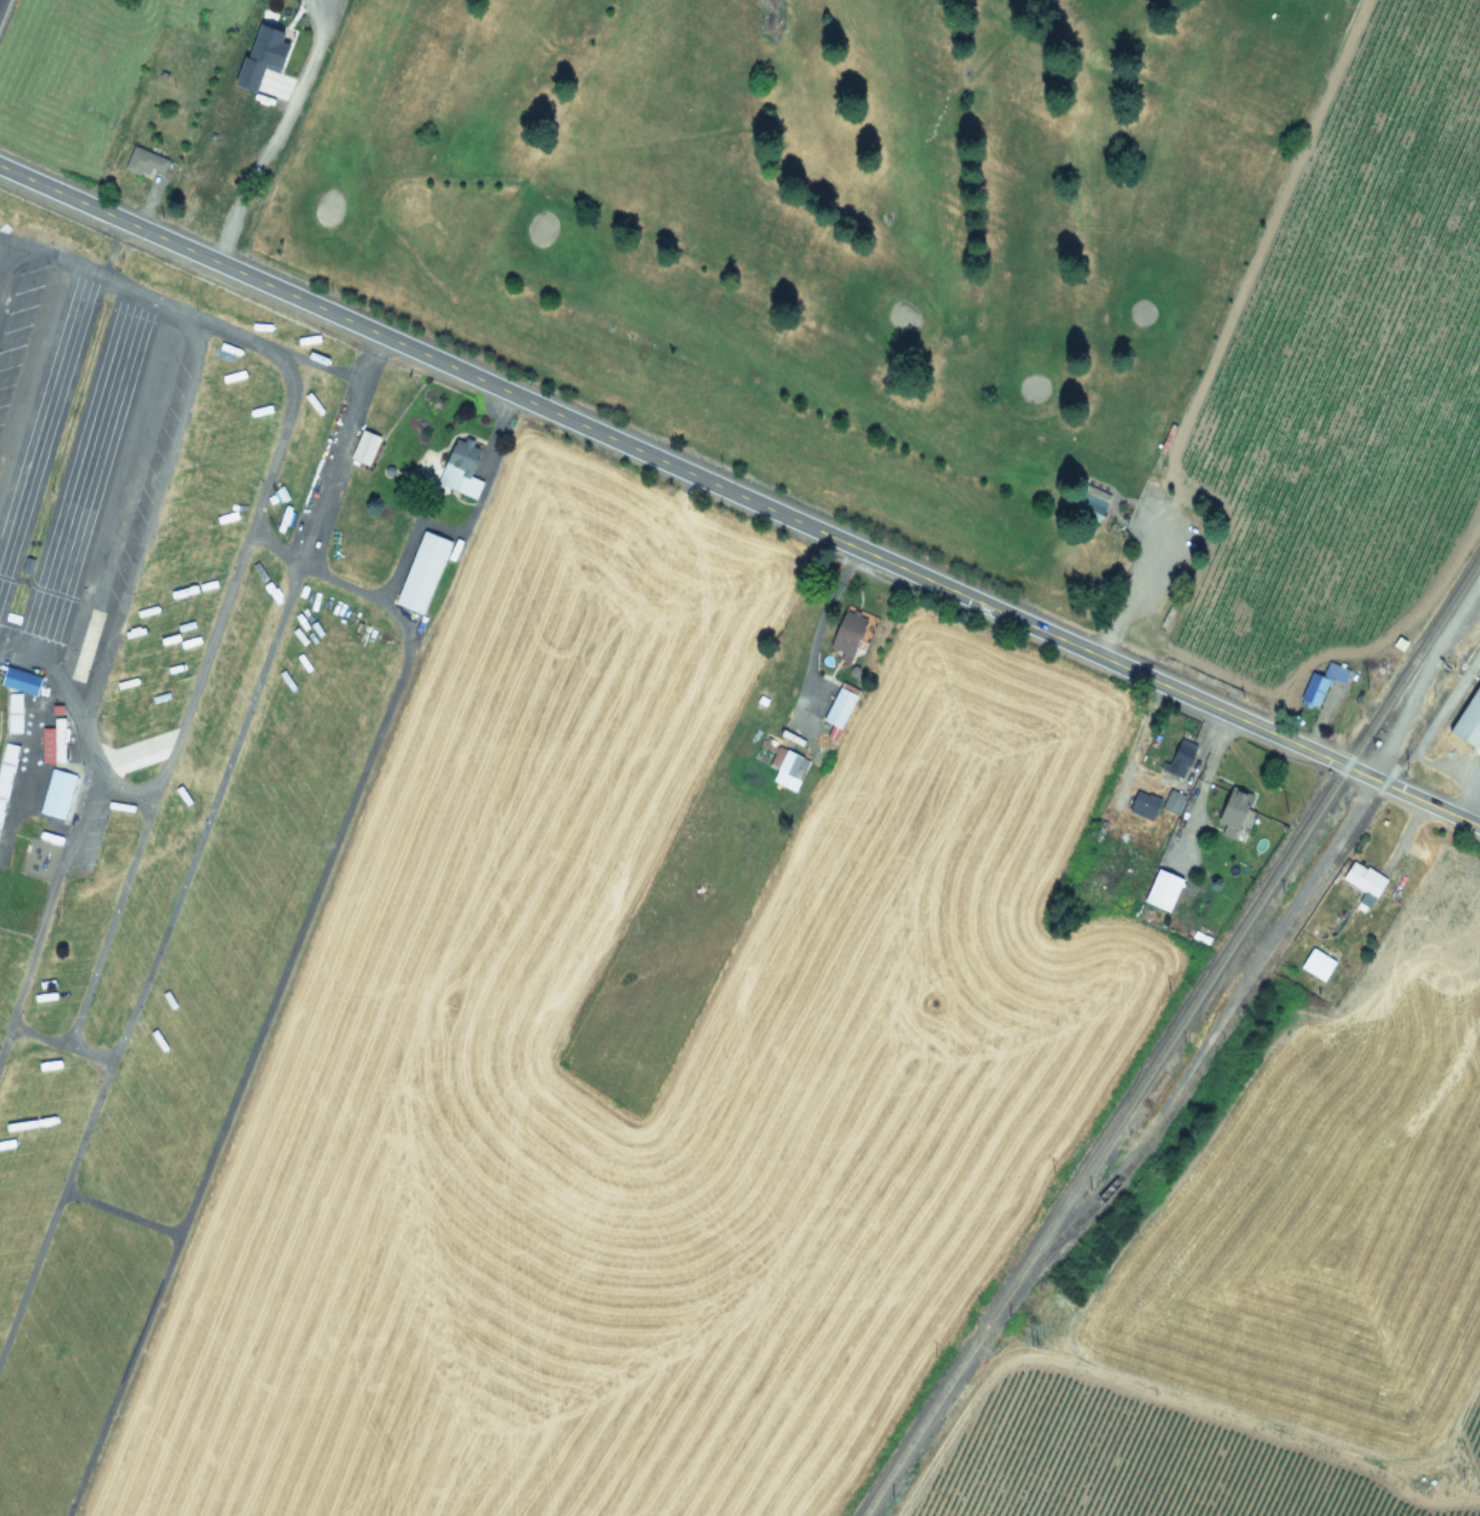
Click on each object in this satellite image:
road: (0, 1)
crop: (176, 98)
road: (270, 131)
building: (143, 162)
building: (204, 185)
park: (840, 236)
road: (8, 268)
road: (181, 308)
crop: (1336, 394)
road: (45, 418)
building: (364, 446)
building: (1413, 448)
building: (459, 468)
road: (82, 480)
road: (740, 496)
road: (464, 524)
road: (137, 547)
building: (420, 572)
road: (1126, 583)
road: (820, 620)
building: (848, 632)
building: (80, 662)
road: (60, 680)
building: (1324, 681)
road: (191, 692)
building: (839, 705)
stadium: (13, 712)
building: (1468, 719)
building: (52, 741)
building: (1180, 756)
stadium: (5, 767)
building: (785, 767)
road: (120, 790)
building: (55, 793)
building: (1171, 803)
building: (1141, 804)
building: (1229, 811)
road: (1478, 820)
building: (172, 822)
road: (190, 845)
building: (1362, 881)
building: (1160, 889)
road: (44, 918)
building: (1315, 964)
road: (276, 986)
railway: (1249, 987)
building: (41, 1008)
crop: (682, 1031)
railway: (1170, 1036)
road: (59, 1044)
road: (120, 1211)
crop: (1305, 1270)
road: (1454, 1438)

